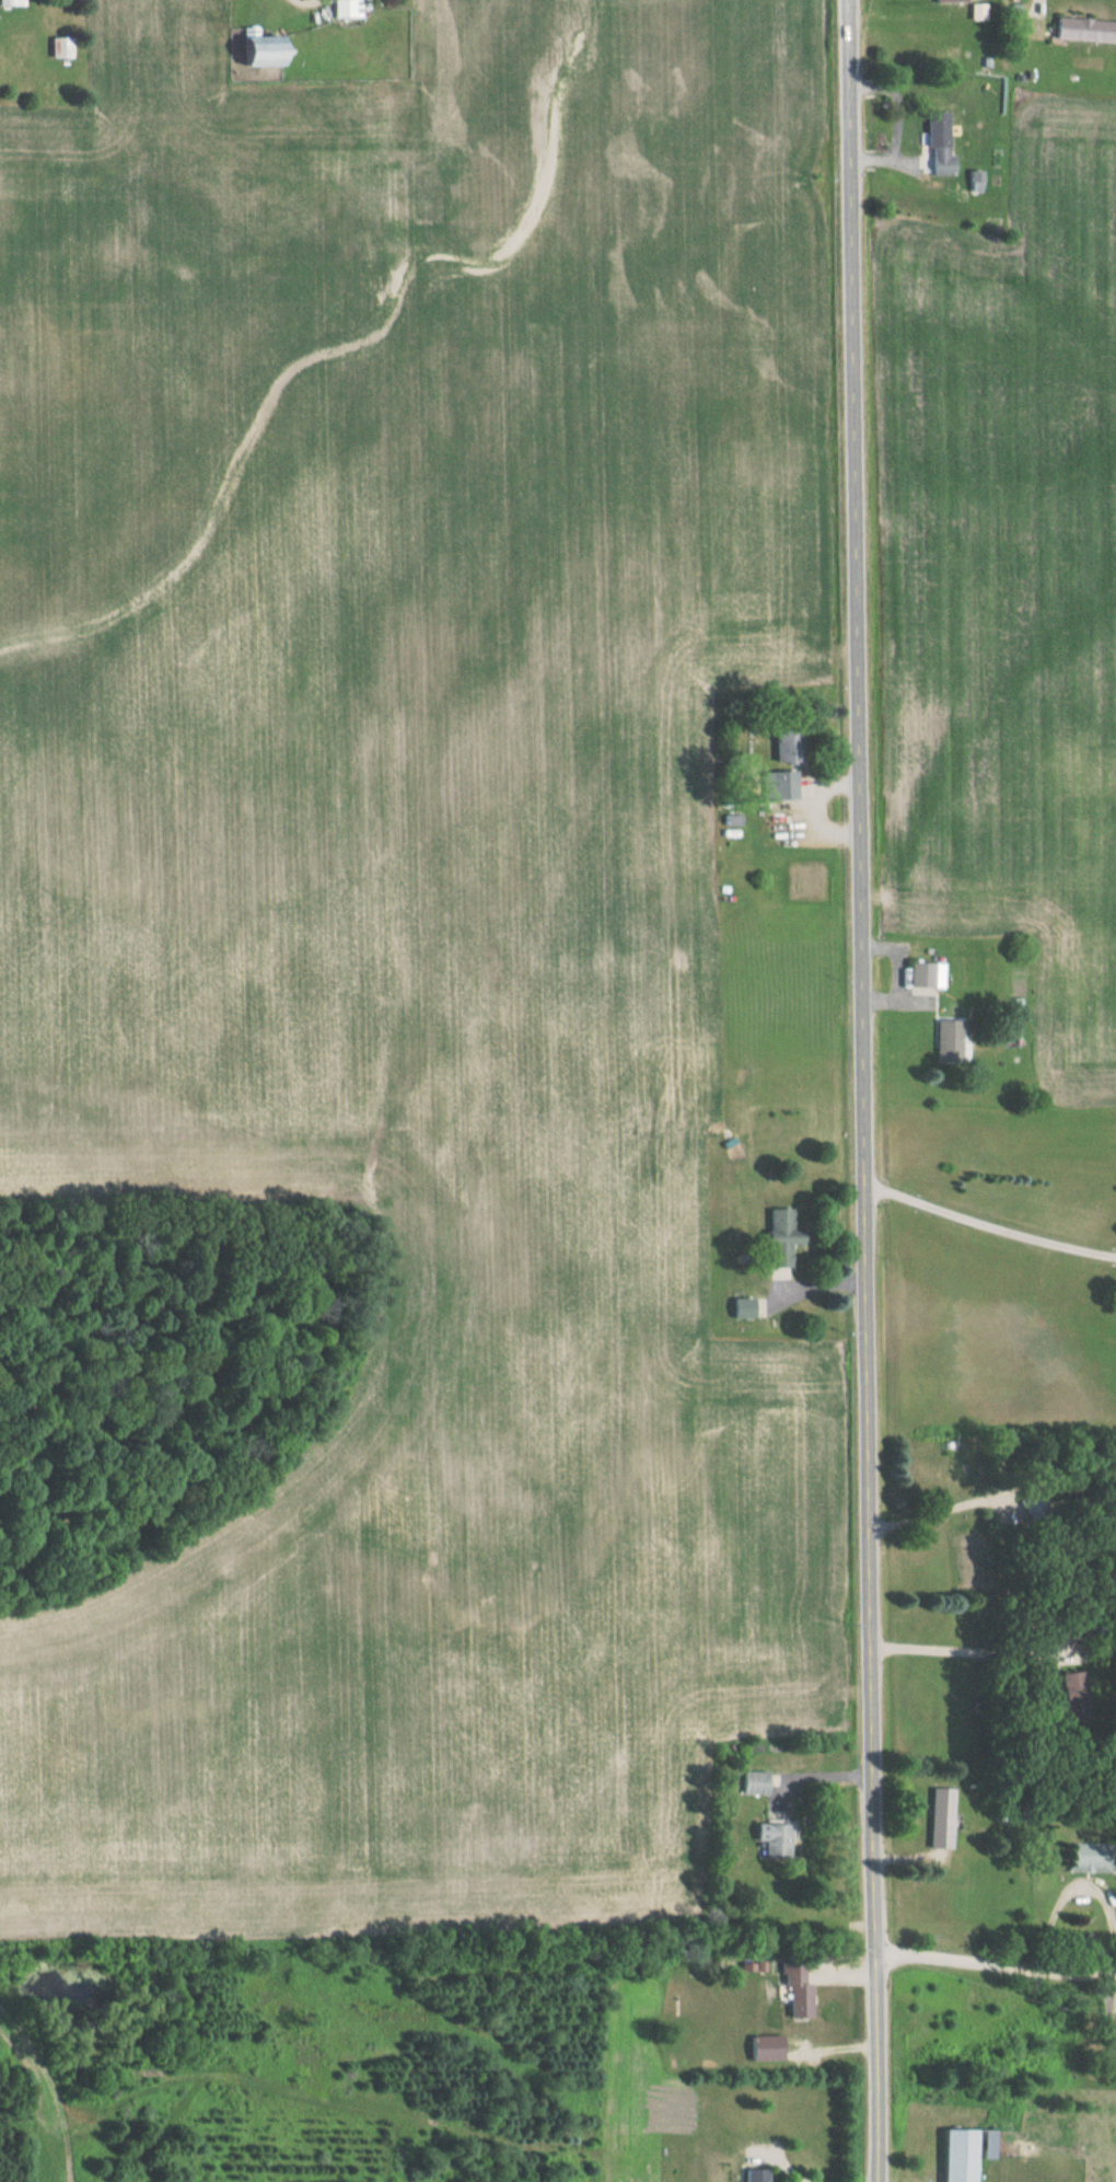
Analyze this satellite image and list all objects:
road: (310, 1)
building: (945, 1)
building: (10, 2)
building: (342, 9)
building: (1083, 31)
building: (57, 48)
building: (256, 50)
building: (935, 143)
building: (973, 182)
building: (781, 747)
building: (770, 786)
building: (918, 974)
building: (945, 1041)
road: (862, 1090)
road: (989, 1222)
building: (775, 1238)
building: (736, 1309)
building: (1069, 1687)
building: (753, 1783)
building: (934, 1817)
building: (767, 1839)
building: (1086, 1858)
road: (995, 1964)
building: (790, 1996)
building: (759, 2048)
road: (769, 2148)
building: (962, 2151)
building: (749, 2175)

